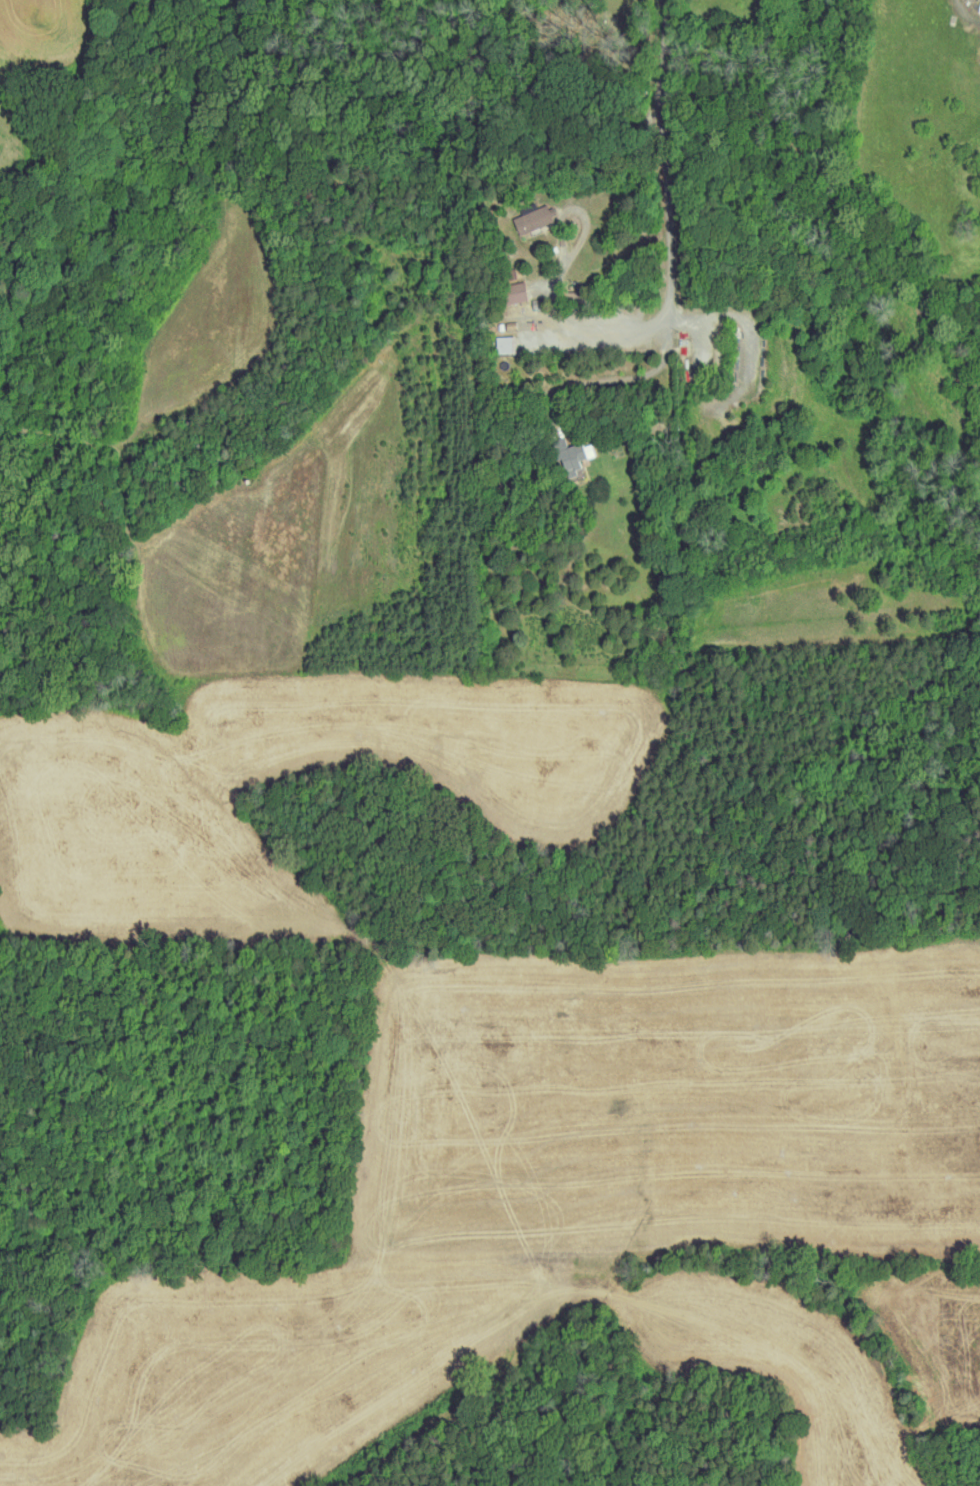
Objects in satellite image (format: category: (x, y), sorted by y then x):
building: (978, 0)
road: (670, 163)
building: (531, 218)
road: (583, 235)
building: (514, 293)
road: (618, 328)
building: (504, 345)
road: (623, 379)
building: (574, 457)

